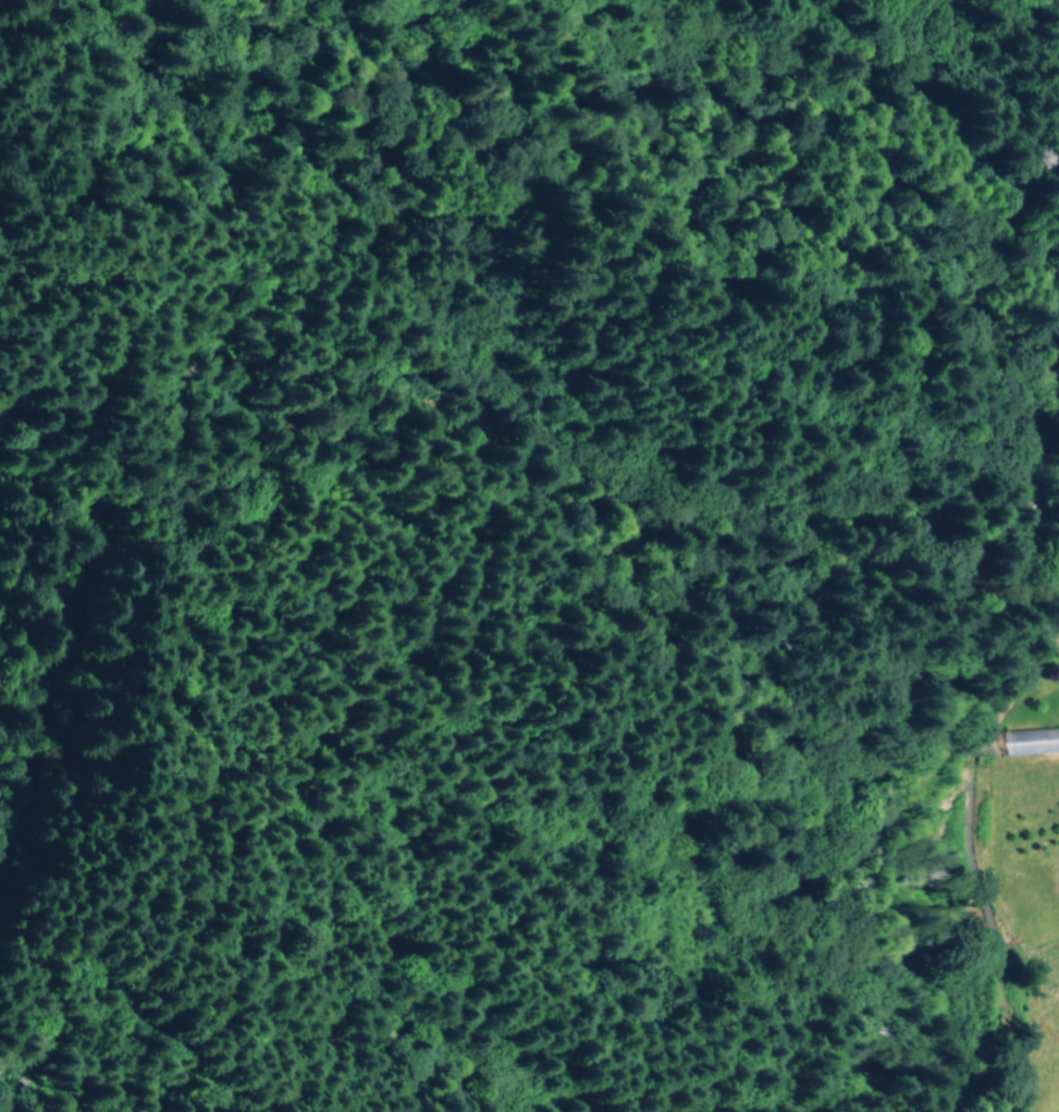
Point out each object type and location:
road: (51, 583)
building: (1030, 740)
road: (955, 878)

